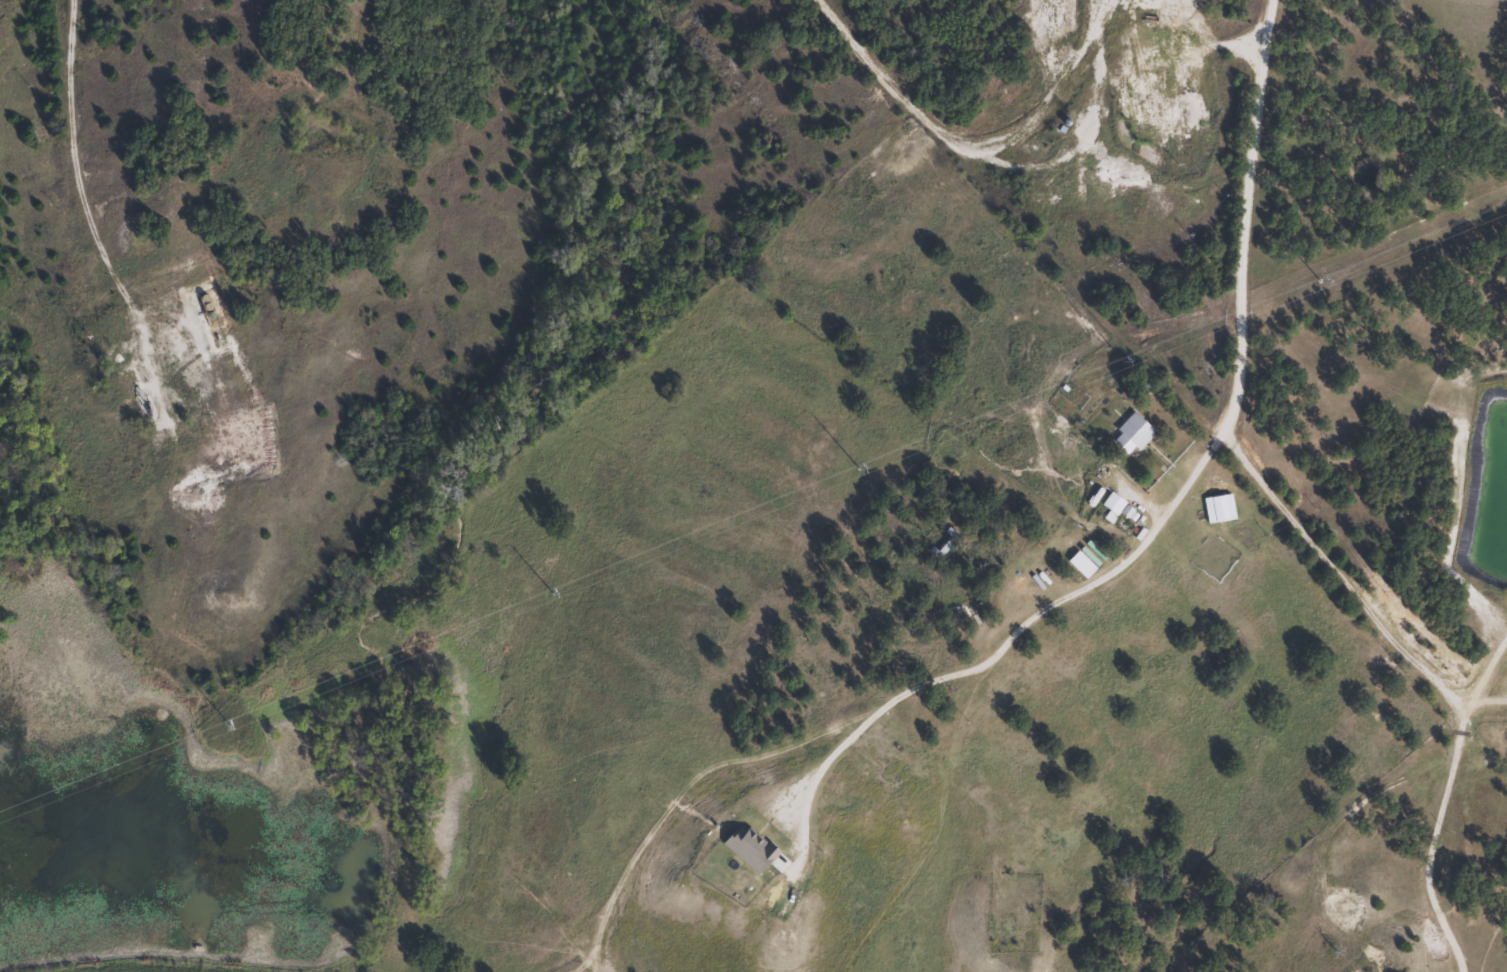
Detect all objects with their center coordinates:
building: (1166, 14)
road: (1141, 28)
road: (1260, 163)
road: (97, 232)
power tower: (1315, 279)
power tower: (1127, 357)
building: (1128, 434)
power tower: (858, 468)
building: (938, 551)
road: (1303, 557)
power tower: (550, 591)
power tower: (226, 723)
road: (1437, 871)

